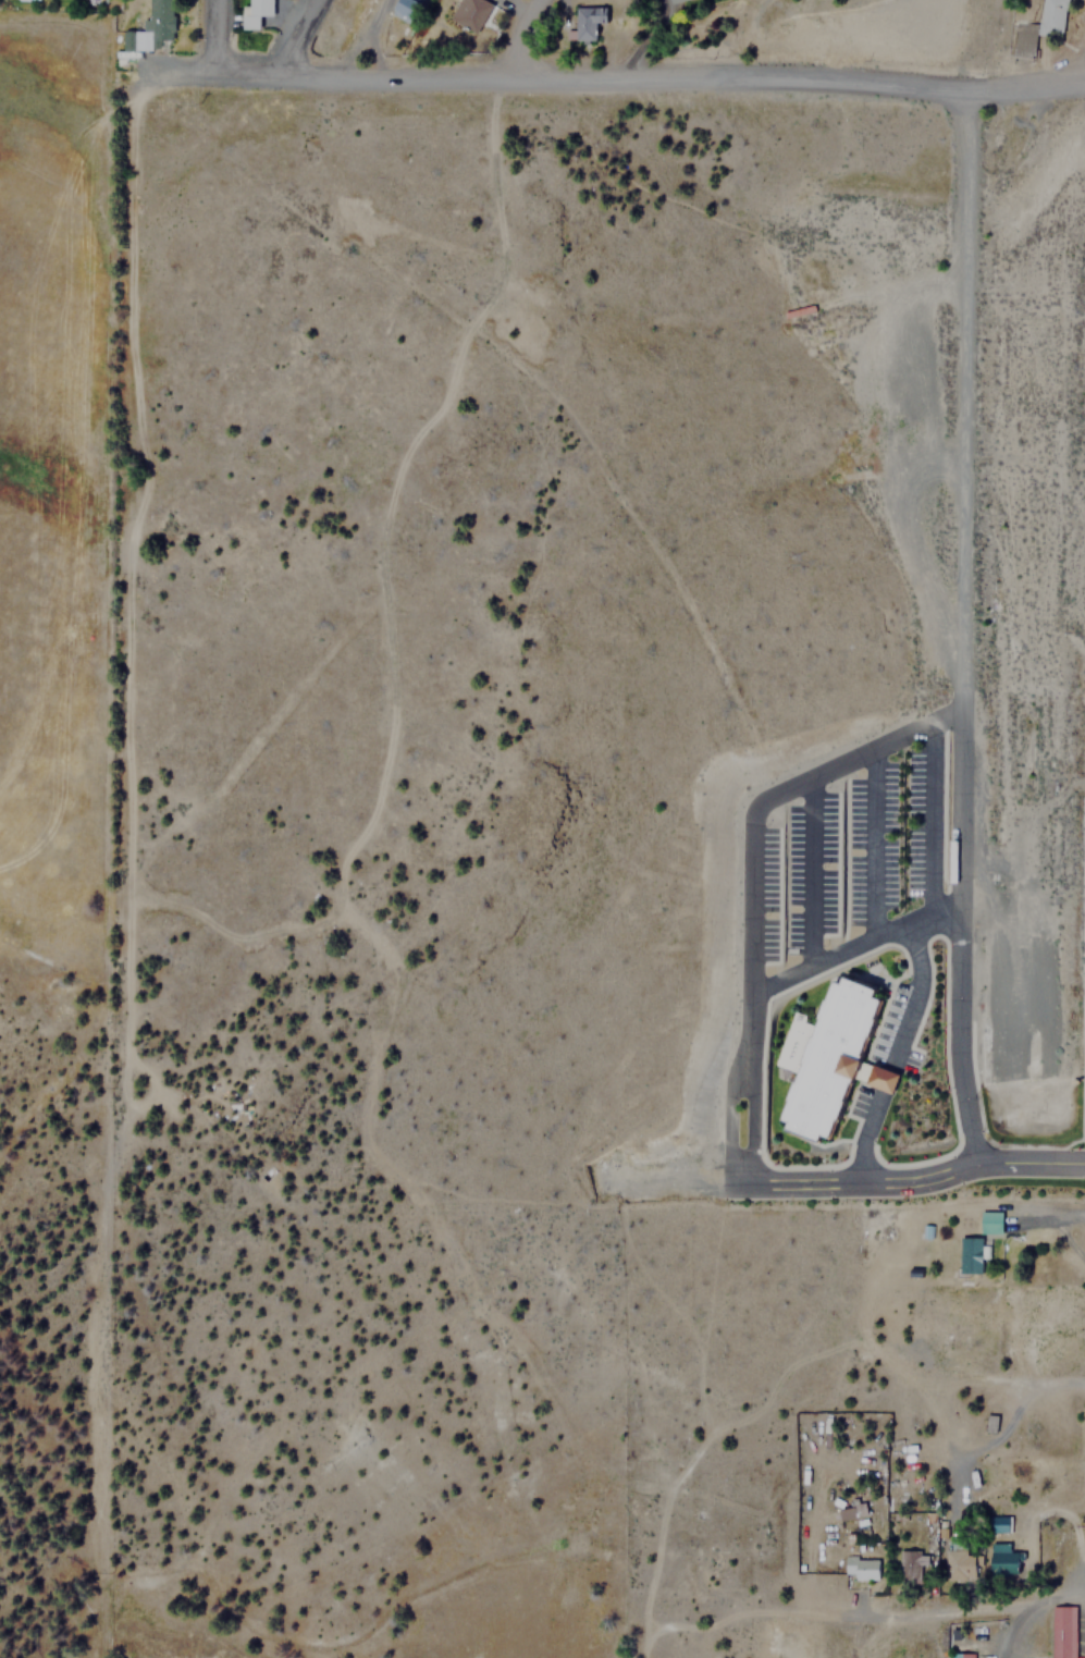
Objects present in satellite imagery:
building: (673, 0)
building: (408, 10)
building: (254, 12)
building: (468, 12)
building: (587, 21)
building: (151, 27)
building: (1038, 27)
road: (215, 34)
road: (298, 35)
road: (523, 37)
road: (156, 70)
road: (651, 77)
road: (960, 625)
road: (928, 819)
road: (748, 820)
parking lot: (833, 844)
road: (870, 844)
road: (807, 871)
road: (851, 943)
road: (912, 995)
building: (829, 1057)
road: (885, 1077)
road: (716, 1118)
road: (739, 1122)
road: (862, 1132)
road: (1027, 1162)
road: (661, 1180)
road: (846, 1181)
building: (992, 1221)
building: (971, 1254)
building: (1032, 1307)
building: (852, 1511)
building: (959, 1561)
building: (1002, 1561)
building: (910, 1565)
building: (860, 1568)
building: (1062, 1632)
building: (959, 1654)

